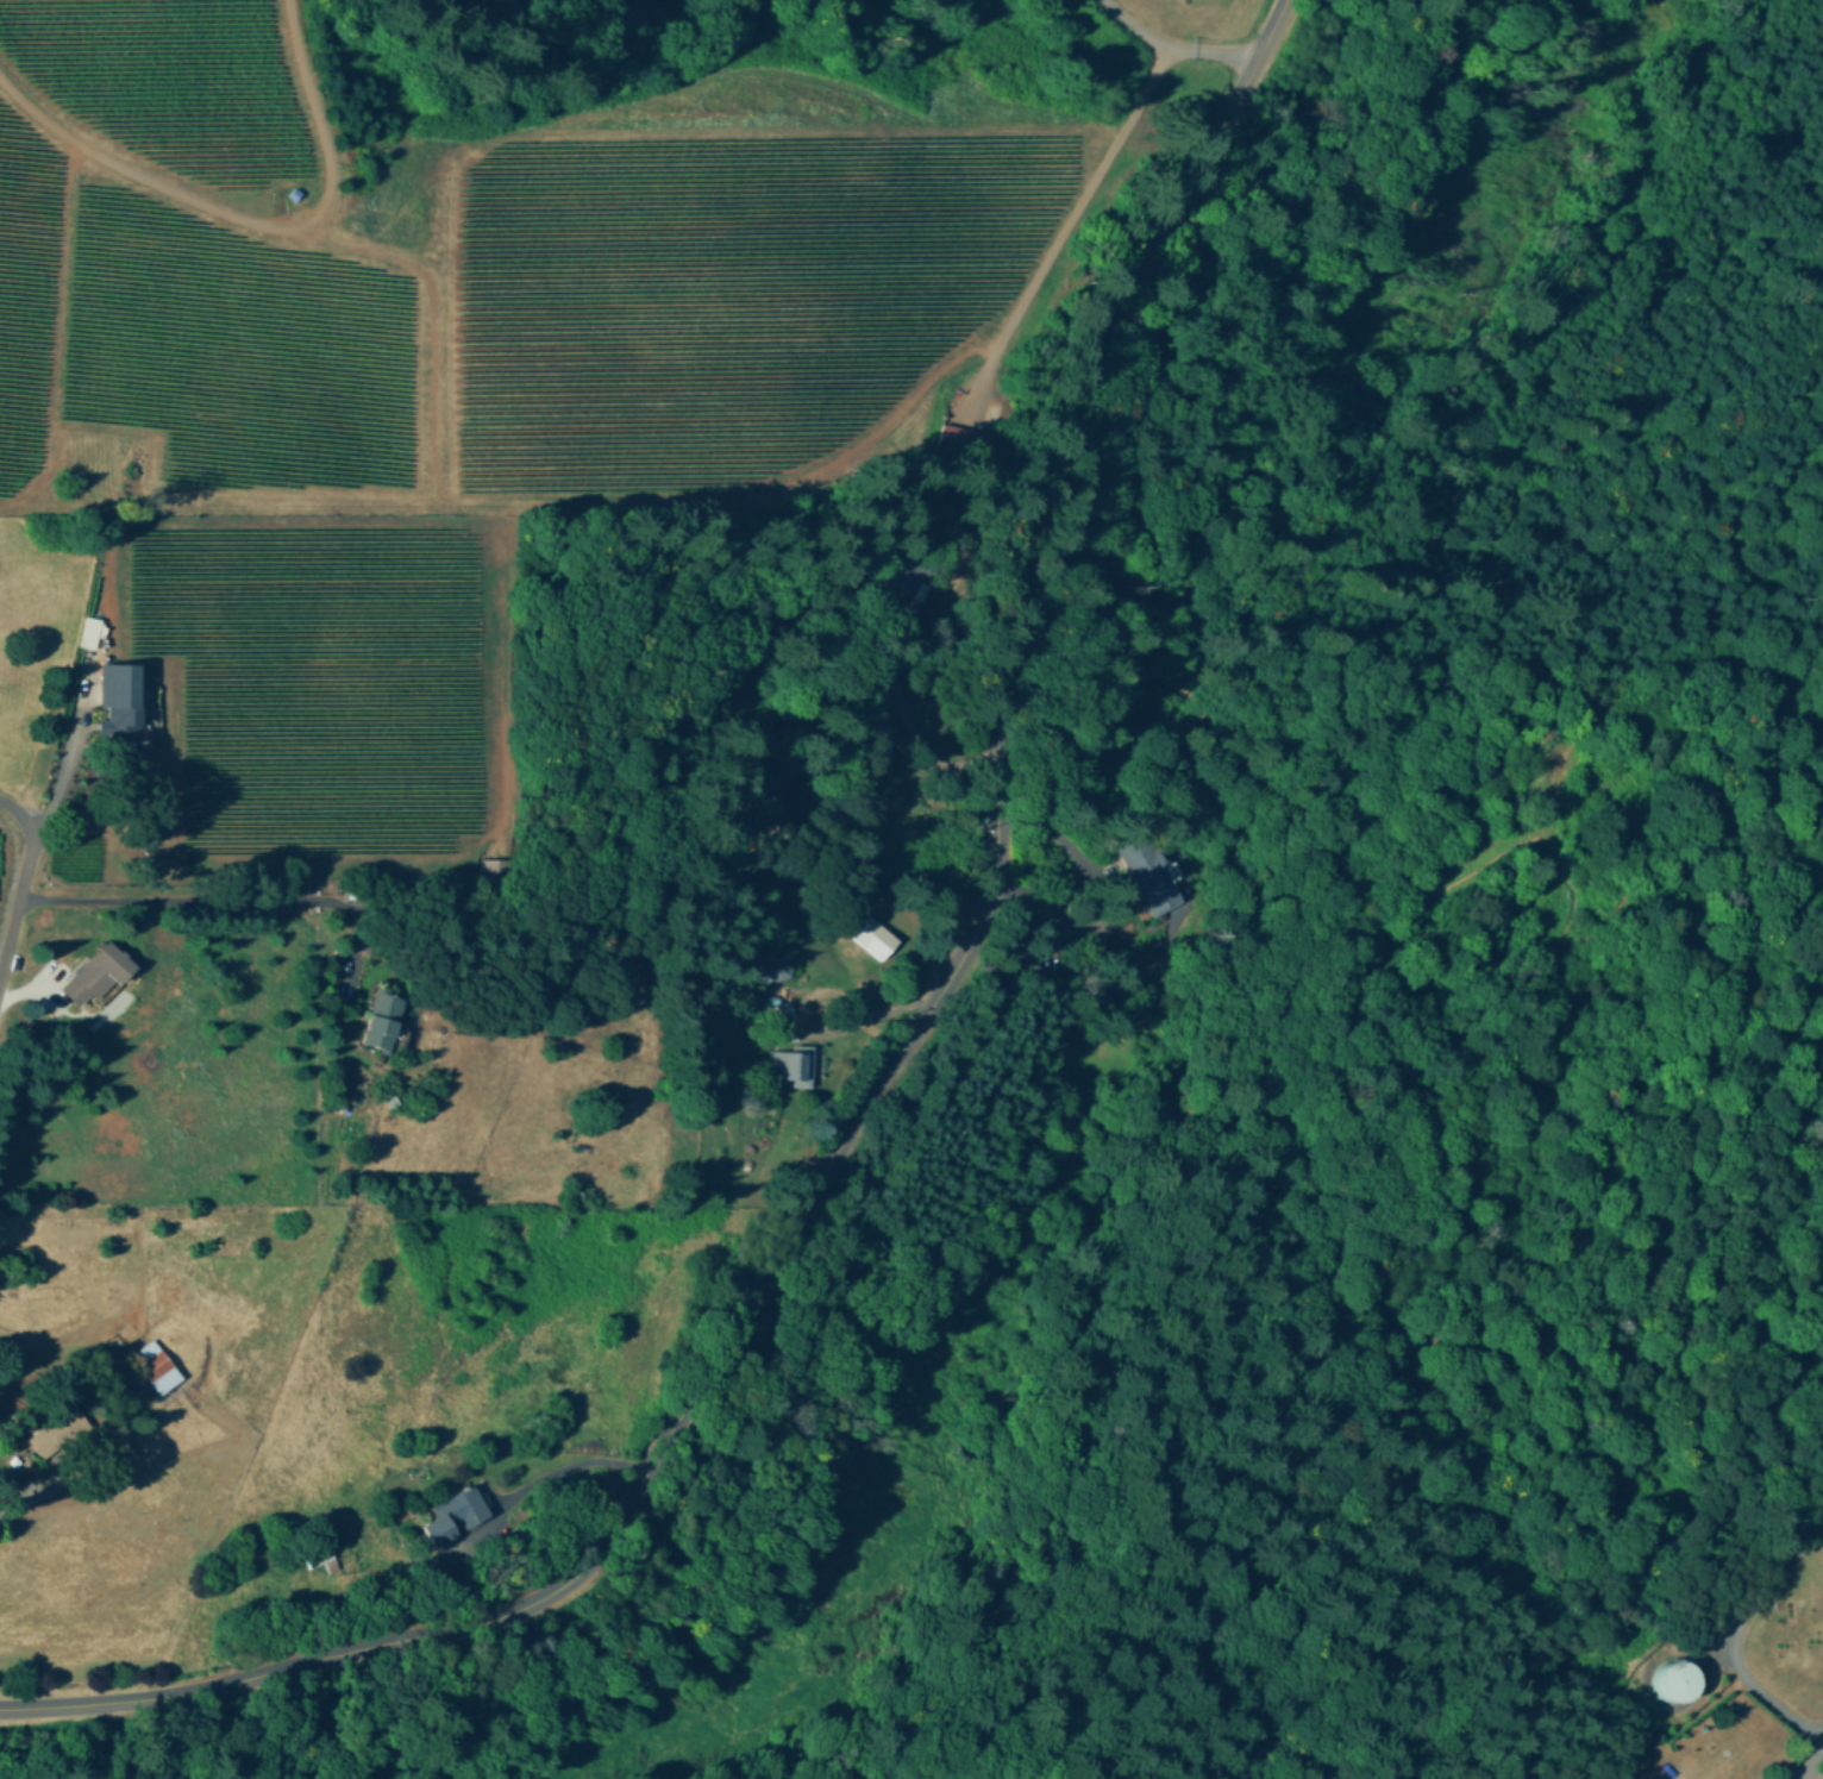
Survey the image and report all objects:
road: (1174, 40)
crop: (614, 232)
building: (118, 700)
road: (1625, 704)
road: (920, 718)
road: (57, 779)
road: (18, 816)
road: (1536, 832)
building: (496, 866)
building: (1154, 873)
road: (17, 898)
road: (195, 902)
building: (873, 934)
building: (787, 966)
building: (96, 972)
building: (383, 1019)
building: (794, 1063)
road: (878, 1082)
road: (1341, 1082)
road: (1484, 1109)
crop: (130, 1134)
road: (1480, 1229)
road: (1542, 1245)
road: (1509, 1279)
building: (156, 1364)
building: (58, 1433)
road: (577, 1461)
building: (455, 1514)
road: (1736, 1635)
park: (1791, 1640)
building: (1668, 1683)
road: (1822, 1743)
road: (1806, 1762)

